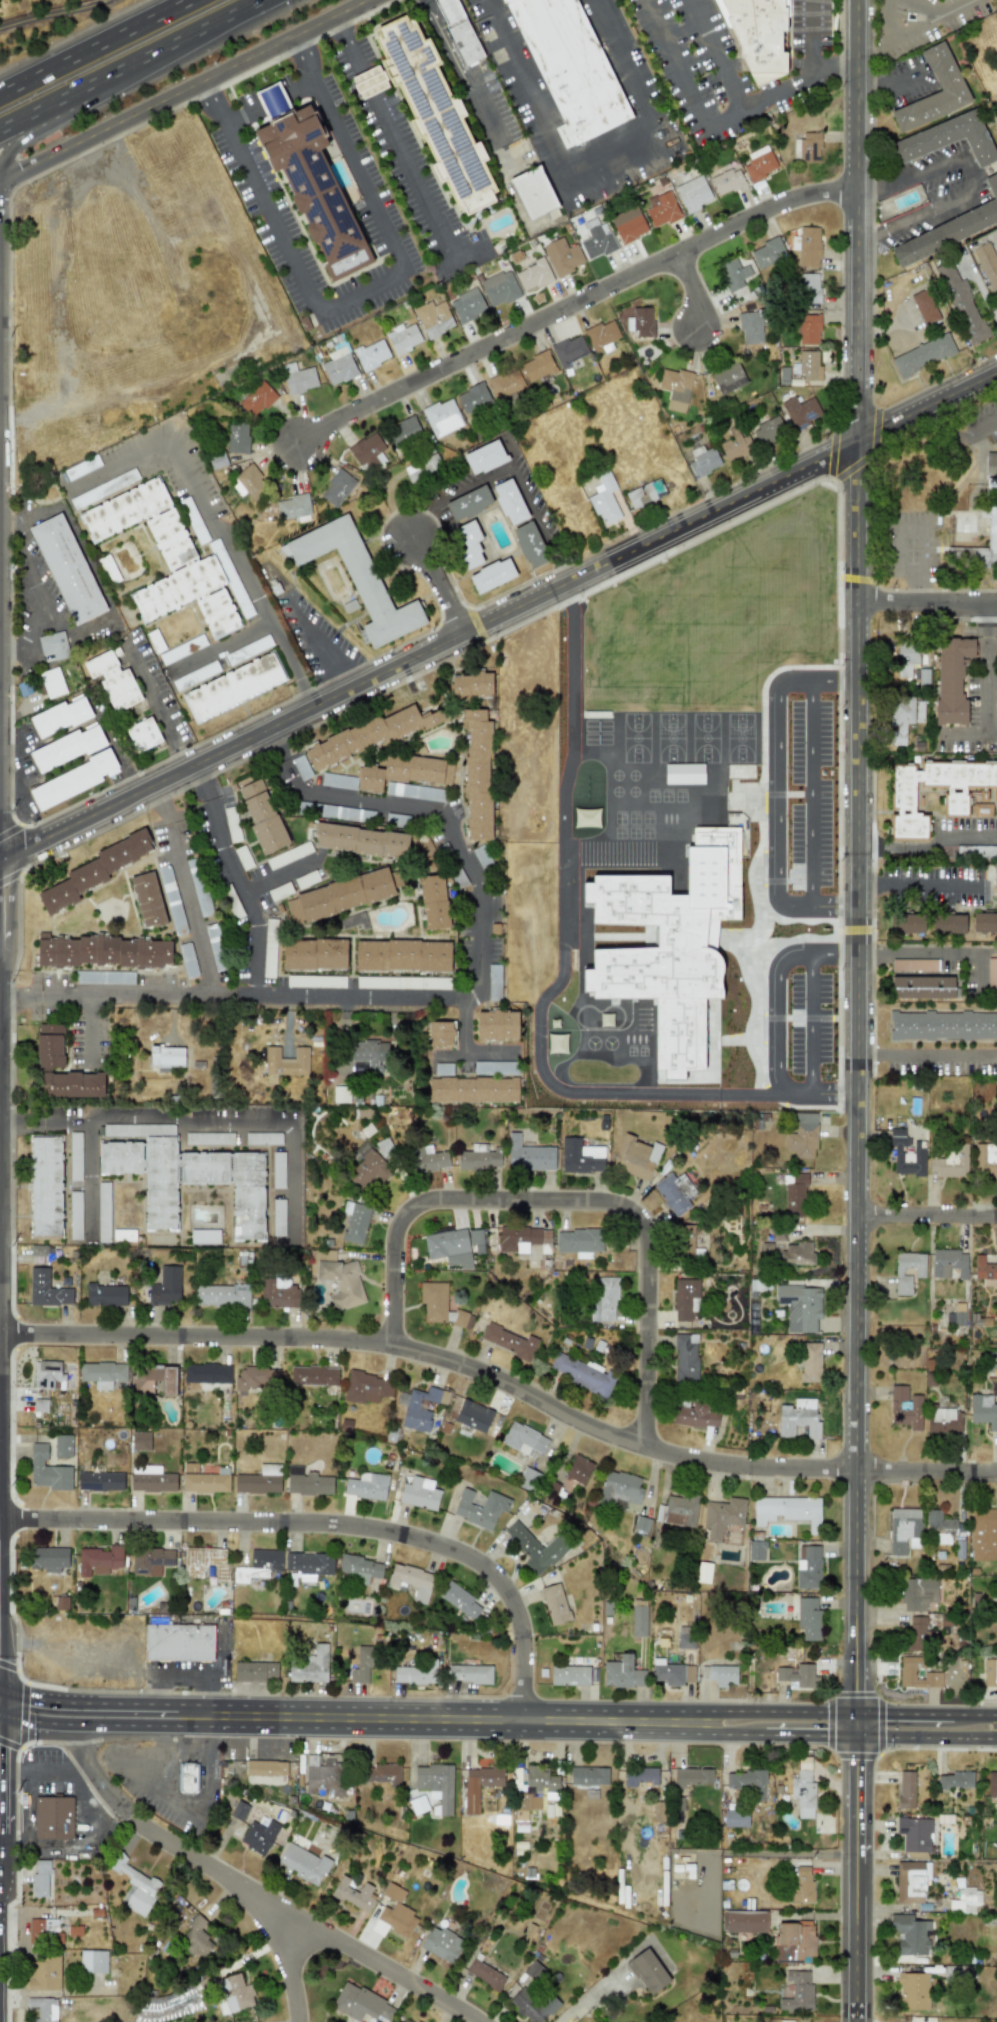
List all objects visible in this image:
park: (1, 0)
road: (49, 15)
road: (894, 20)
road: (211, 26)
road: (338, 28)
road: (914, 30)
building: (459, 31)
building: (758, 35)
road: (812, 35)
road: (839, 42)
road: (95, 47)
road: (718, 52)
road: (353, 56)
road: (304, 58)
road: (456, 63)
road: (840, 66)
building: (569, 68)
building: (943, 71)
building: (369, 82)
road: (367, 83)
road: (182, 89)
road: (299, 89)
road: (81, 91)
building: (996, 99)
road: (212, 102)
road: (272, 102)
road: (78, 108)
building: (434, 114)
road: (242, 116)
road: (705, 120)
building: (947, 138)
building: (807, 148)
road: (590, 158)
building: (759, 163)
road: (856, 163)
road: (873, 163)
road: (408, 169)
road: (969, 172)
building: (727, 181)
building: (314, 189)
road: (865, 189)
building: (533, 192)
building: (693, 193)
building: (662, 209)
building: (628, 225)
building: (949, 230)
road: (865, 234)
building: (809, 246)
building: (767, 253)
building: (562, 256)
building: (987, 266)
building: (733, 274)
building: (534, 275)
road: (359, 287)
building: (500, 288)
road: (691, 288)
building: (809, 288)
road: (8, 295)
building: (961, 303)
road: (571, 304)
building: (468, 305)
building: (924, 306)
building: (433, 319)
building: (641, 322)
building: (750, 327)
building: (808, 329)
building: (602, 335)
building: (403, 338)
building: (569, 351)
building: (372, 354)
building: (923, 355)
building: (809, 365)
building: (339, 366)
building: (537, 366)
building: (298, 378)
building: (728, 378)
building: (505, 383)
road: (855, 384)
building: (676, 388)
building: (473, 398)
building: (257, 399)
road: (926, 407)
building: (801, 412)
building: (442, 417)
building: (403, 431)
building: (768, 431)
road: (954, 431)
building: (237, 437)
building: (735, 445)
building: (368, 451)
road: (175, 454)
building: (485, 457)
building: (217, 460)
building: (703, 461)
building: (423, 468)
road: (509, 469)
building: (251, 481)
building: (337, 488)
building: (645, 493)
building: (604, 499)
building: (510, 502)
building: (469, 503)
building: (294, 506)
road: (9, 521)
road: (909, 526)
building: (992, 531)
building: (530, 544)
building: (469, 545)
road: (745, 551)
road: (920, 551)
road: (813, 552)
road: (899, 552)
building: (171, 558)
building: (67, 569)
road: (93, 571)
road: (653, 572)
building: (492, 575)
building: (361, 579)
road: (439, 582)
road: (34, 587)
road: (746, 587)
road: (836, 587)
road: (911, 587)
road: (927, 603)
road: (264, 614)
road: (985, 620)
road: (313, 636)
building: (581, 638)
road: (441, 643)
building: (54, 645)
road: (220, 647)
road: (10, 648)
building: (906, 657)
building: (641, 668)
road: (342, 678)
building: (951, 678)
building: (113, 680)
building: (52, 683)
building: (472, 685)
building: (234, 687)
building: (743, 687)
road: (149, 692)
road: (983, 693)
building: (60, 716)
building: (903, 716)
building: (143, 735)
building: (370, 735)
road: (960, 735)
road: (276, 742)
building: (67, 748)
road: (180, 757)
road: (283, 766)
building: (655, 769)
building: (405, 772)
building: (477, 774)
road: (204, 779)
building: (74, 780)
building: (905, 794)
road: (711, 795)
building: (655, 799)
road: (358, 800)
road: (161, 802)
building: (608, 805)
building: (262, 816)
building: (778, 828)
road: (967, 838)
building: (361, 841)
road: (901, 847)
road: (459, 848)
road: (14, 852)
building: (95, 870)
road: (12, 876)
road: (276, 878)
building: (995, 880)
road: (869, 884)
road: (927, 884)
building: (341, 896)
building: (148, 900)
building: (434, 902)
building: (984, 921)
building: (909, 923)
building: (948, 923)
road: (478, 935)
building: (670, 944)
building: (103, 951)
road: (563, 951)
road: (919, 951)
building: (315, 954)
building: (403, 955)
road: (776, 985)
building: (923, 986)
road: (209, 988)
road: (257, 993)
road: (18, 997)
building: (497, 1025)
building: (943, 1025)
building: (441, 1033)
road: (463, 1039)
building: (50, 1046)
road: (929, 1053)
building: (370, 1054)
building: (167, 1056)
building: (285, 1063)
road: (862, 1076)
building: (73, 1084)
building: (474, 1090)
road: (819, 1092)
building: (341, 1094)
road: (10, 1096)
road: (203, 1119)
building: (802, 1136)
building: (907, 1154)
building: (529, 1156)
building: (581, 1157)
building: (479, 1158)
building: (636, 1158)
building: (427, 1159)
building: (985, 1159)
building: (950, 1161)
building: (368, 1167)
road: (90, 1175)
building: (186, 1175)
building: (46, 1187)
building: (675, 1193)
building: (795, 1195)
road: (577, 1208)
road: (930, 1212)
building: (355, 1222)
building: (205, 1236)
building: (685, 1240)
building: (477, 1241)
building: (579, 1241)
building: (525, 1242)
building: (449, 1248)
building: (798, 1253)
building: (949, 1263)
building: (919, 1271)
building: (985, 1271)
building: (342, 1282)
building: (165, 1287)
building: (46, 1290)
building: (277, 1293)
building: (106, 1295)
building: (222, 1296)
building: (685, 1298)
building: (603, 1299)
building: (440, 1306)
building: (800, 1307)
building: (956, 1316)
building: (509, 1341)
building: (686, 1357)
building: (810, 1362)
building: (207, 1373)
building: (582, 1373)
building: (103, 1374)
building: (47, 1375)
building: (314, 1375)
building: (258, 1378)
building: (152, 1379)
building: (368, 1388)
road: (503, 1388)
building: (905, 1408)
building: (414, 1410)
building: (983, 1410)
building: (697, 1415)
building: (473, 1416)
building: (799, 1418)
building: (944, 1421)
road: (11, 1428)
building: (524, 1439)
building: (141, 1441)
building: (62, 1446)
building: (579, 1470)
building: (47, 1471)
building: (152, 1479)
building: (204, 1479)
building: (527, 1479)
building: (100, 1480)
building: (260, 1480)
building: (307, 1482)
building: (367, 1486)
building: (620, 1489)
building: (420, 1493)
building: (480, 1508)
building: (680, 1510)
building: (788, 1511)
building: (722, 1517)
road: (14, 1520)
building: (642, 1524)
building: (943, 1528)
road: (327, 1530)
building: (904, 1530)
building: (984, 1534)
building: (536, 1547)
building: (768, 1551)
building: (48, 1559)
building: (265, 1559)
building: (99, 1560)
building: (151, 1561)
building: (205, 1562)
building: (309, 1565)
building: (808, 1567)
building: (360, 1569)
building: (241, 1575)
building: (411, 1581)
building: (918, 1594)
building: (460, 1601)
building: (555, 1604)
road: (10, 1610)
road: (0, 1614)
building: (808, 1618)
building: (915, 1633)
building: (179, 1642)
building: (309, 1666)
building: (362, 1666)
road: (8, 1668)
building: (907, 1669)
building: (255, 1671)
building: (417, 1673)
building: (623, 1673)
building: (672, 1673)
building: (990, 1673)
building: (470, 1674)
building: (720, 1674)
building: (570, 1675)
building: (800, 1676)
traffic signals: (0, 1691)
road: (0, 1703)
road: (106, 1703)
road: (783, 1711)
road: (908, 1714)
road: (23, 1715)
road: (975, 1715)
traffic signals: (0, 1716)
road: (459, 1718)
road: (107, 1724)
road: (726, 1734)
road: (807, 1734)
road: (930, 1736)
road: (10, 1744)
road: (89, 1768)
building: (266, 1768)
road: (0, 1772)
road: (44, 1772)
building: (382, 1773)
building: (588, 1775)
building: (639, 1775)
building: (323, 1776)
building: (692, 1776)
building: (188, 1777)
building: (538, 1778)
building: (954, 1780)
building: (747, 1782)
building: (435, 1784)
building: (992, 1784)
building: (479, 1785)
building: (906, 1789)
building: (803, 1793)
building: (418, 1804)
building: (525, 1805)
road: (190, 1809)
building: (239, 1810)
building: (658, 1811)
building: (53, 1817)
building: (735, 1818)
road: (16, 1828)
building: (914, 1833)
building: (259, 1835)
building: (303, 1863)
road: (861, 1867)
building: (40, 1878)
building: (911, 1881)
building: (135, 1885)
building: (801, 1885)
building: (353, 1893)
building: (965, 1900)
building: (394, 1914)
building: (743, 1921)
road: (303, 1925)
building: (43, 1930)
building: (910, 1934)
building: (196, 1938)
road: (268, 1940)
building: (793, 1941)
building: (441, 1944)
building: (93, 1961)
building: (533, 1969)
building: (647, 1971)
building: (44, 1973)
building: (485, 1974)
building: (798, 1990)
building: (912, 1990)
building: (233, 1993)
road: (591, 1998)
building: (361, 2003)
building: (43, 2009)
building: (407, 2020)
building: (783, 2020)

